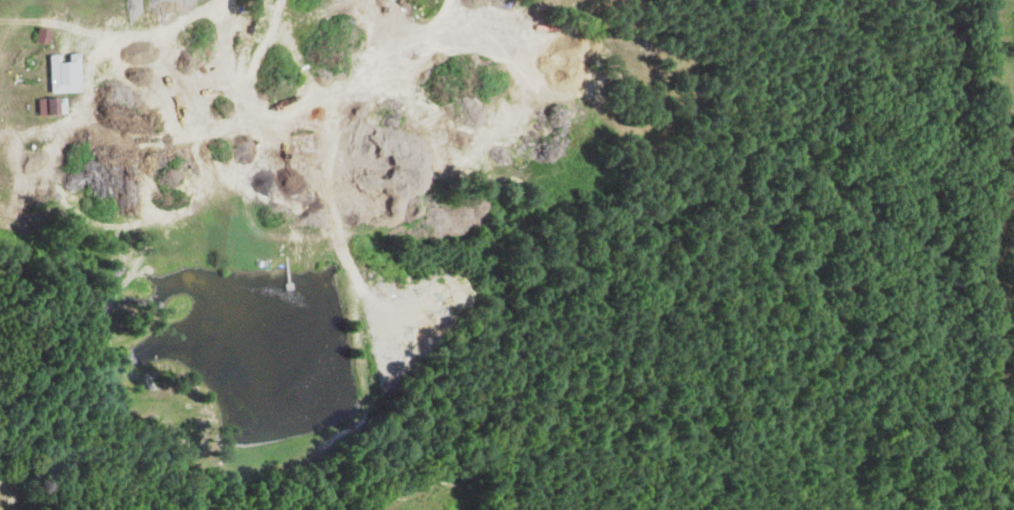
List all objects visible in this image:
building: (41, 36)
road: (127, 49)
building: (59, 74)
building: (46, 107)
road: (248, 129)

